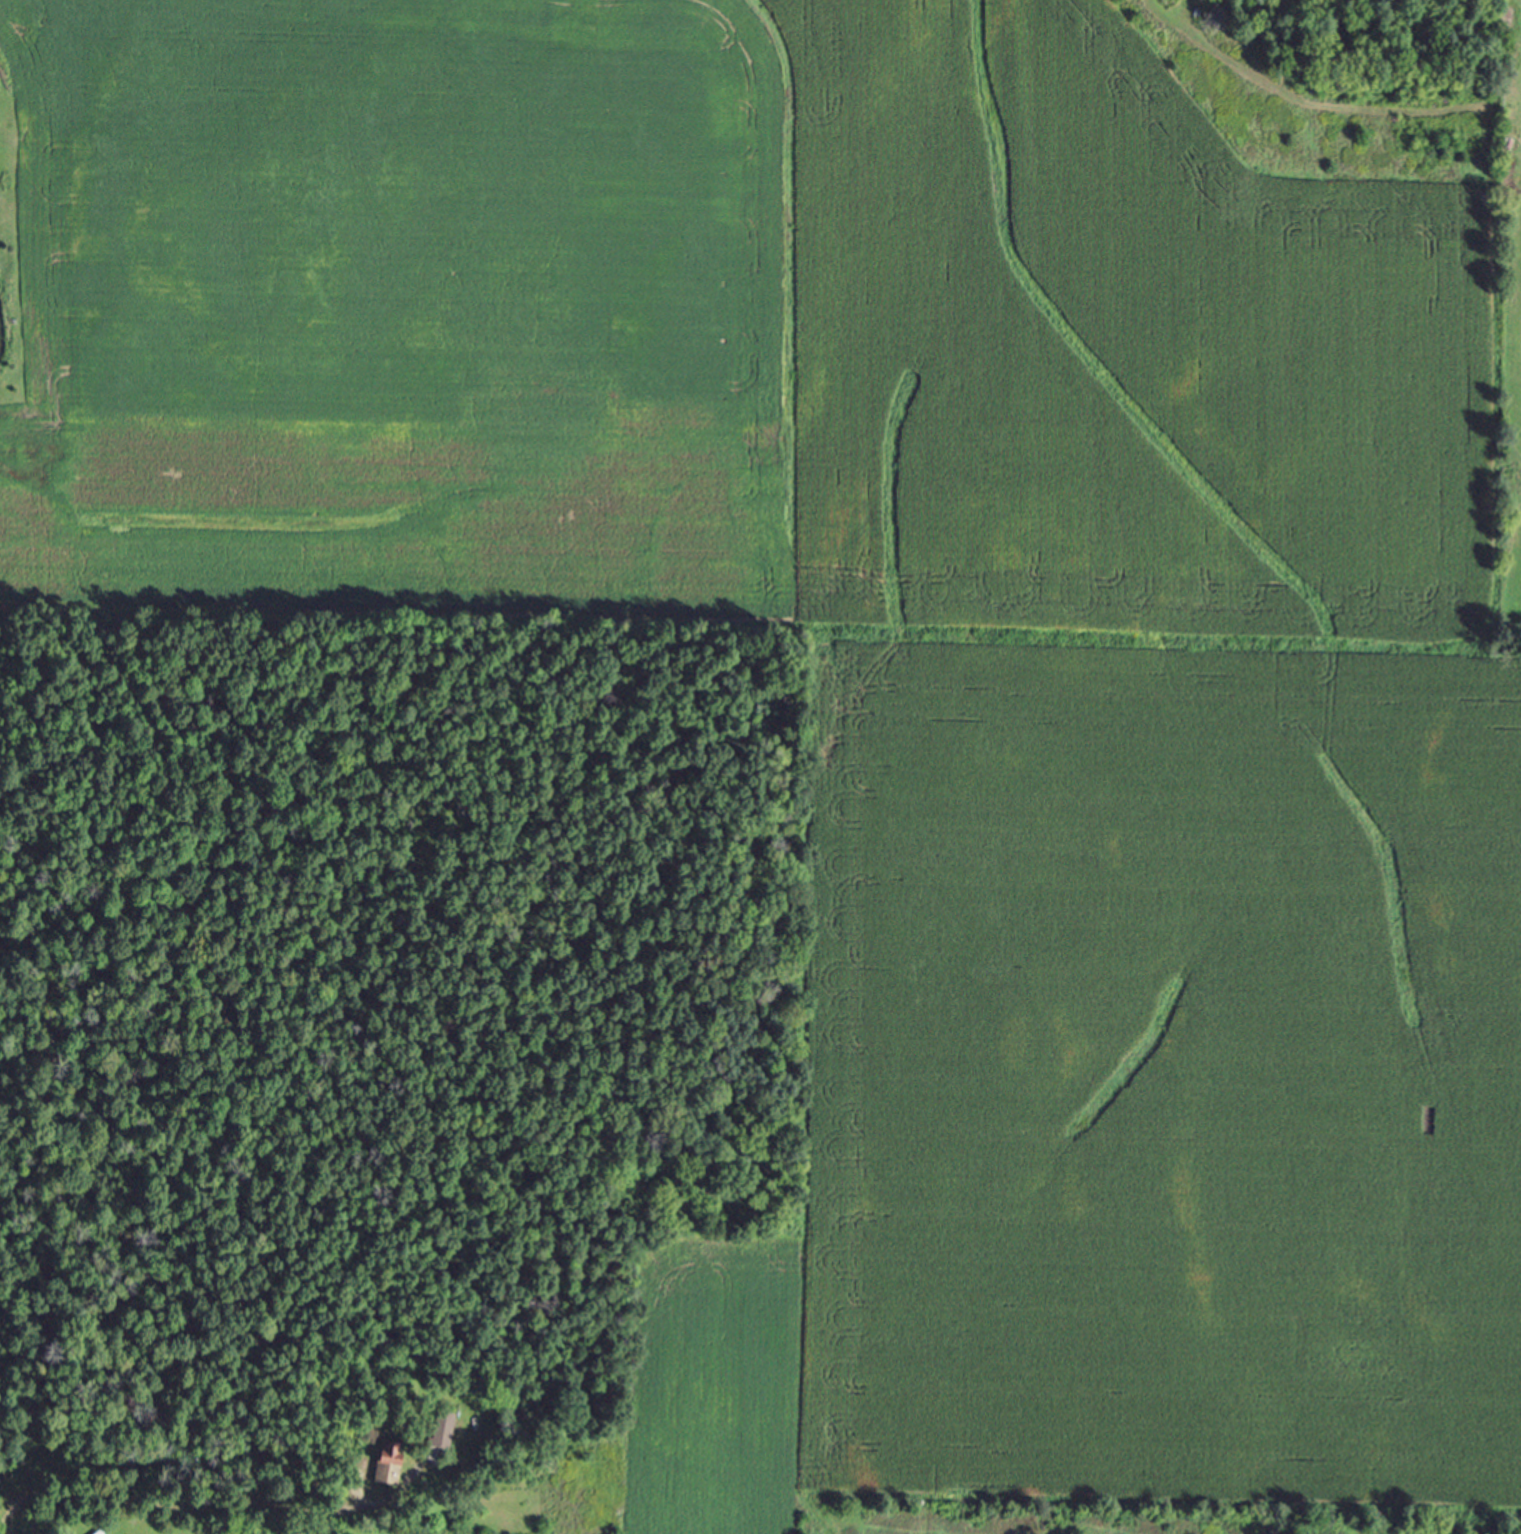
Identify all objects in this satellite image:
building: (399, 1470)
road: (206, 1504)

